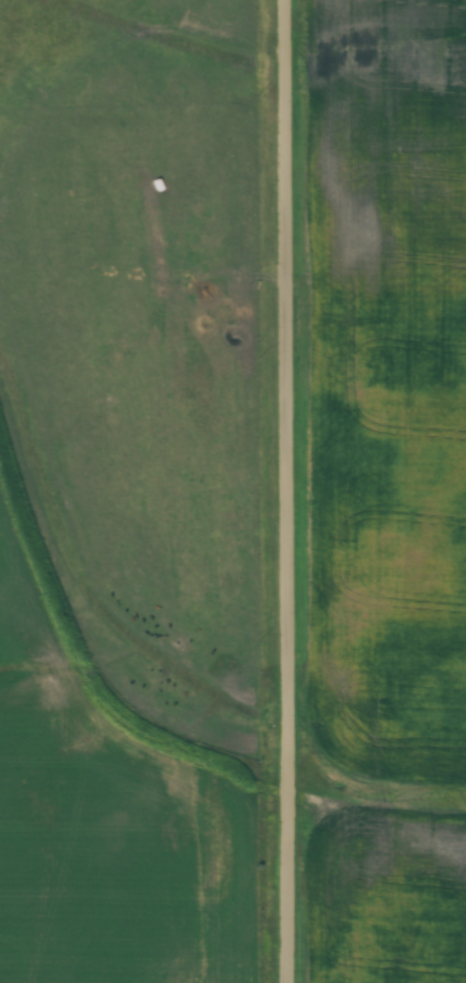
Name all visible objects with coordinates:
road: (292, 491)

